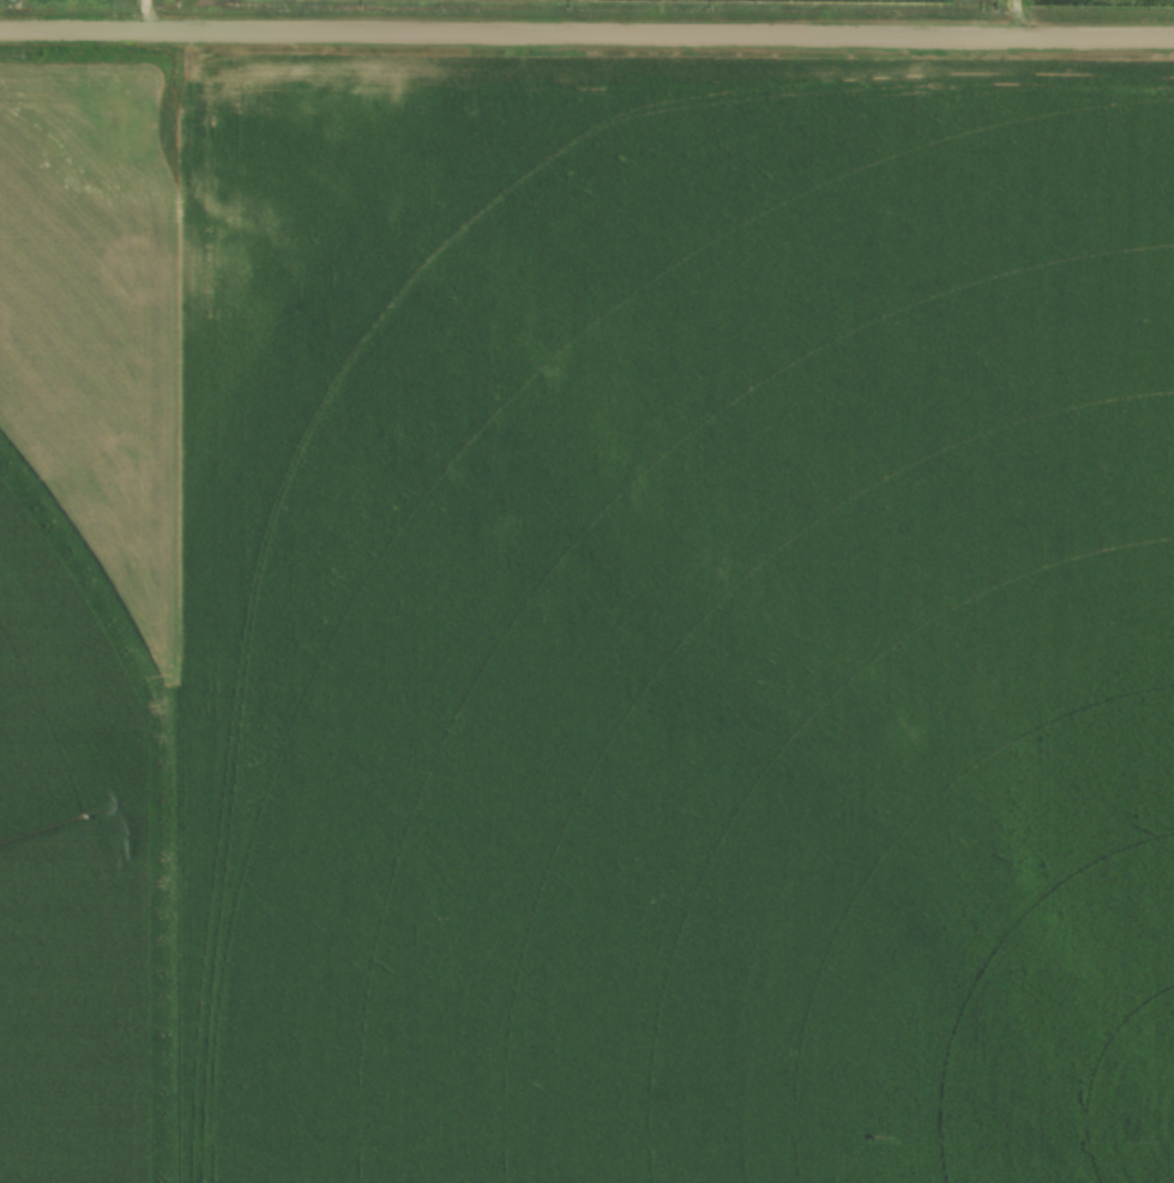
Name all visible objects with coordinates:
crop: (1110, 1)
crop: (807, 4)
road: (144, 16)
road: (586, 35)
crop: (588, 623)

